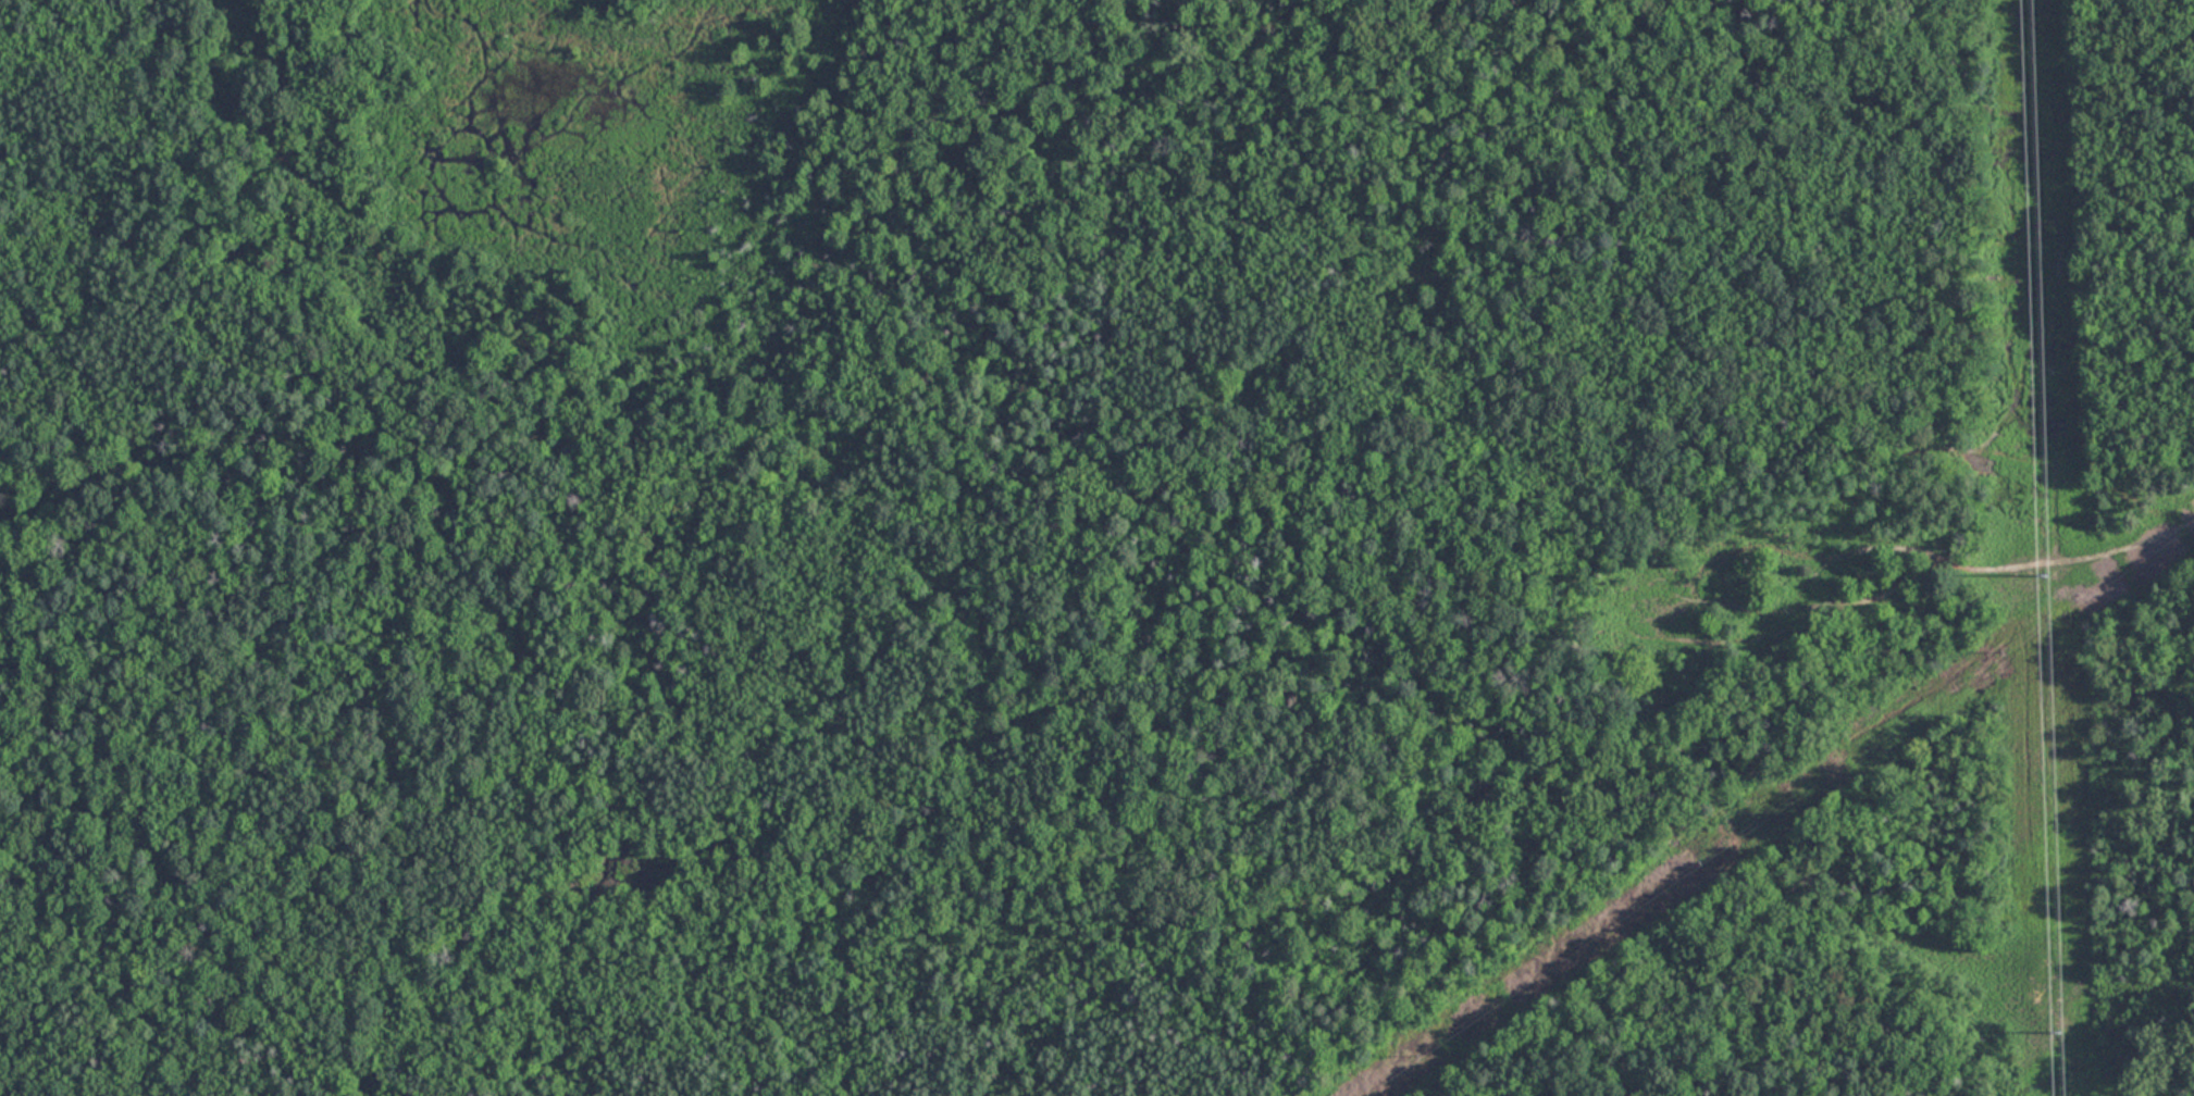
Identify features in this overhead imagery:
power tower: (2048, 574)
park: (981, 596)
power tower: (2058, 1037)

